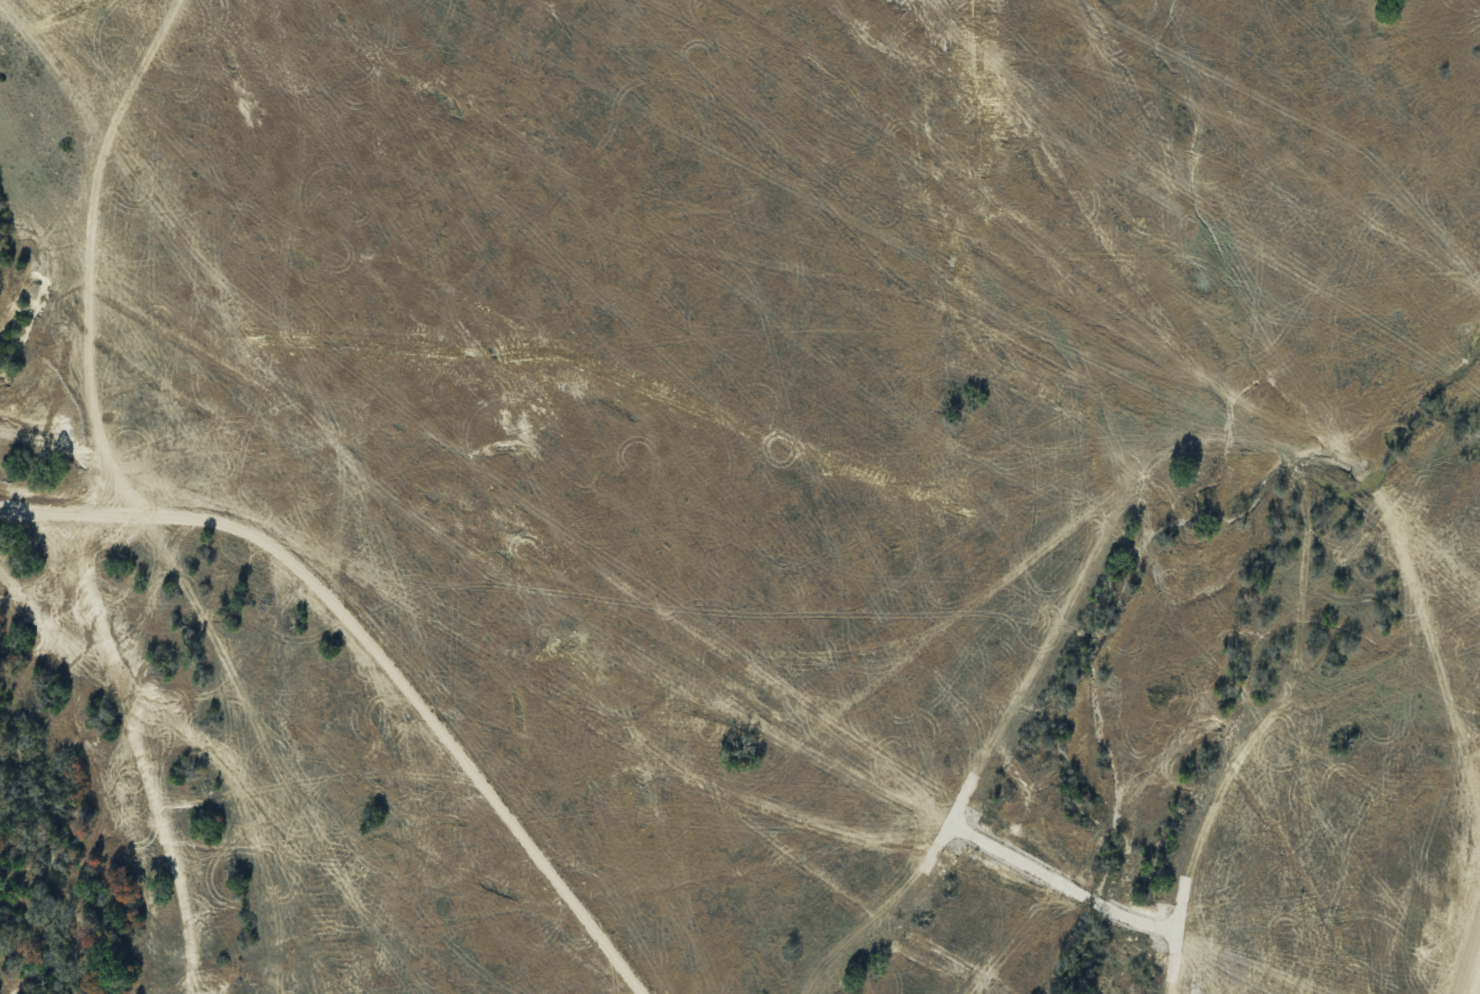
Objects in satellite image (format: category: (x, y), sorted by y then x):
road: (1476, 975)

